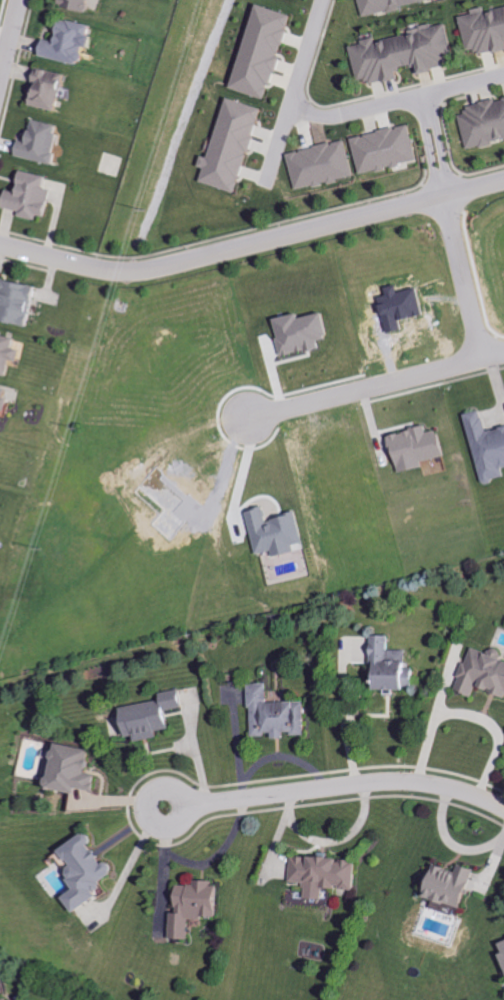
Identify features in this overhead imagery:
building: (80, 3)
building: (385, 5)
building: (486, 29)
road: (8, 36)
building: (73, 42)
building: (266, 50)
building: (405, 53)
building: (52, 88)
road: (294, 90)
road: (396, 103)
building: (483, 122)
building: (45, 141)
building: (235, 145)
building: (386, 148)
building: (322, 164)
building: (36, 196)
road: (449, 229)
road: (252, 239)
building: (22, 301)
building: (305, 333)
building: (10, 352)
road: (378, 386)
building: (5, 401)
building: (488, 446)
building: (420, 447)
building: (278, 532)
building: (483, 671)
road: (471, 710)
road: (343, 712)
building: (280, 714)
building: (155, 715)
building: (76, 769)
road: (347, 785)
road: (184, 817)
building: (89, 871)
building: (329, 874)
building: (456, 885)
building: (199, 906)
building: (503, 943)
building: (6, 999)

